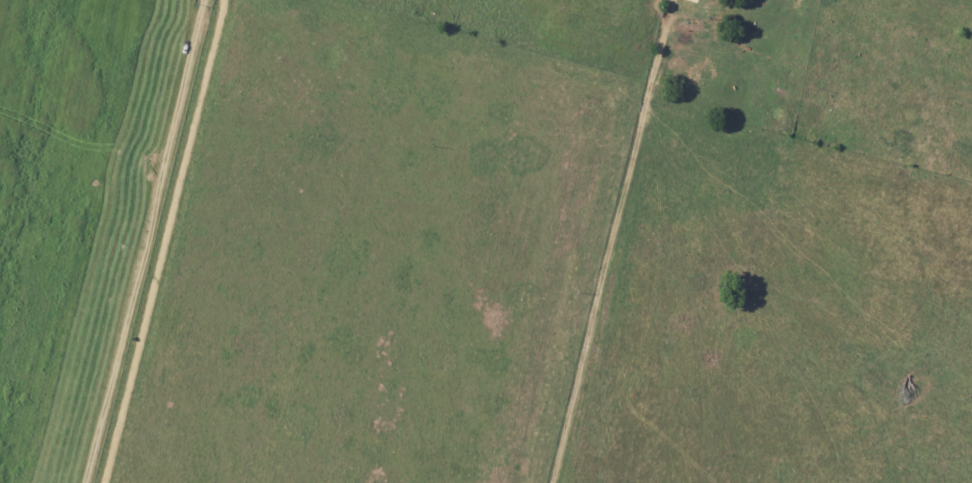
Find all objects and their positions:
road: (146, 241)
road: (165, 241)
road: (613, 241)

